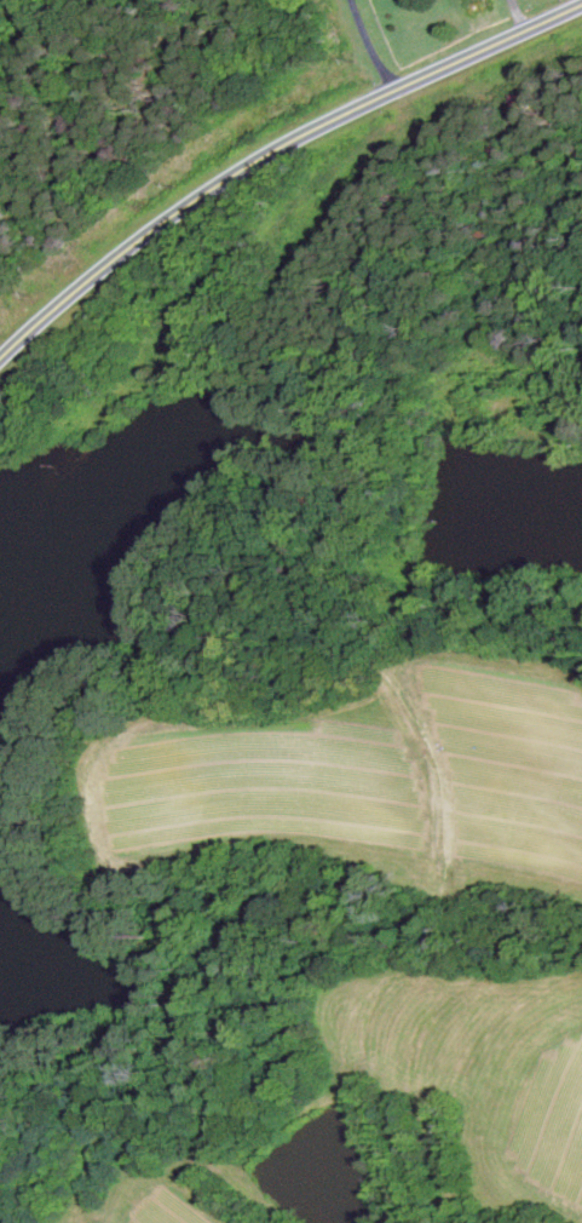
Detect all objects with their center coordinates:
road: (518, 16)
road: (370, 46)
road: (273, 154)

